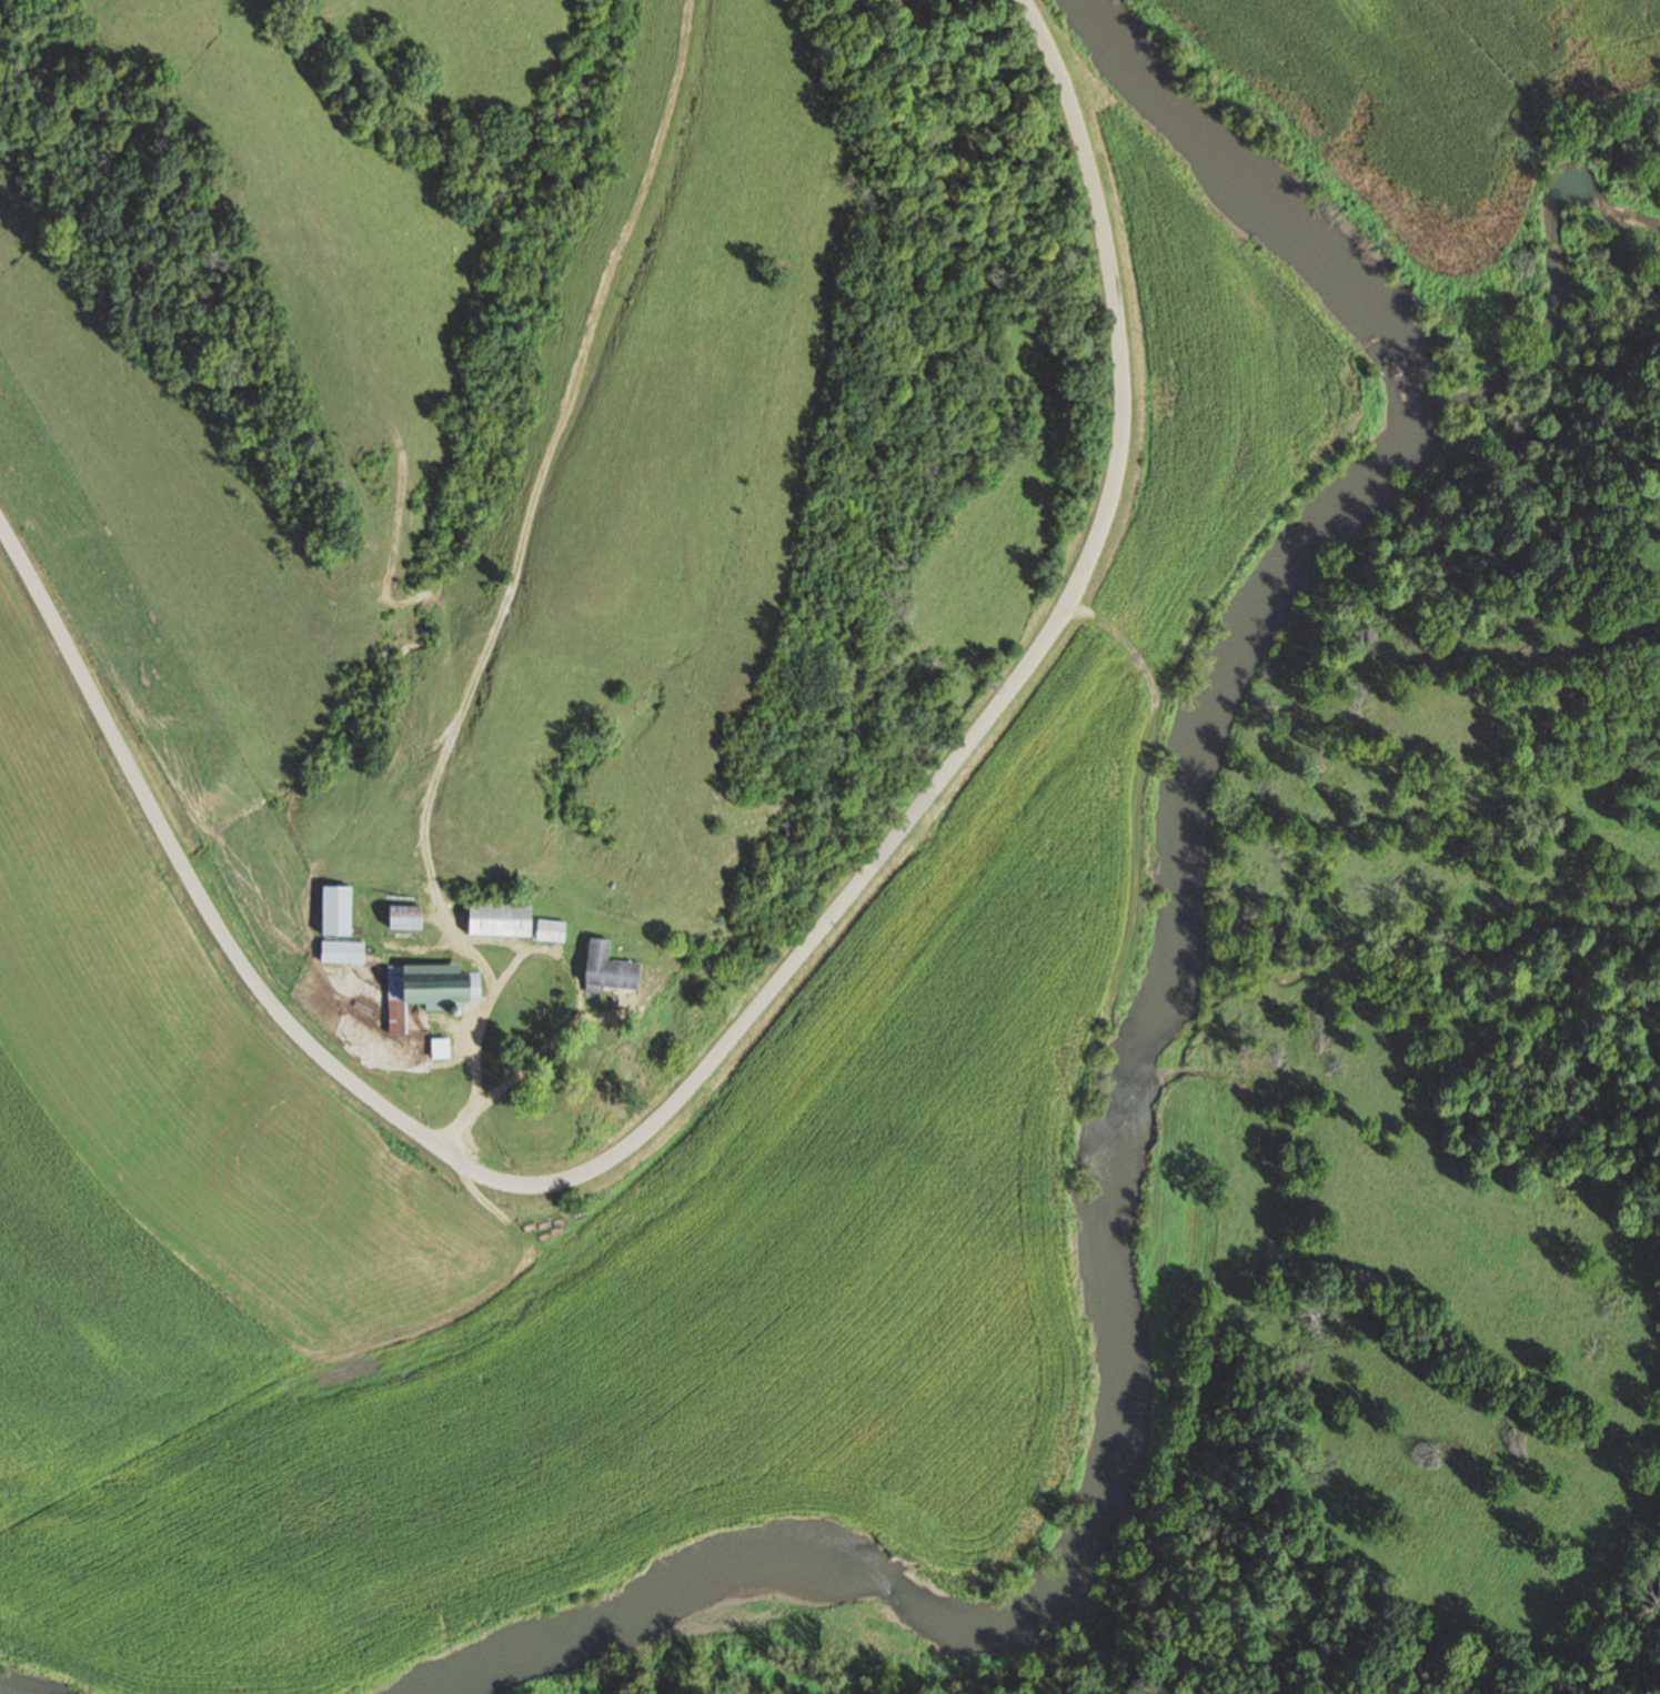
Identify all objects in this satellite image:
building: (333, 909)
building: (402, 916)
building: (497, 919)
building: (550, 929)
road: (525, 945)
building: (340, 950)
building: (606, 967)
building: (427, 989)
road: (733, 1008)
river: (1148, 1036)
building: (439, 1047)

